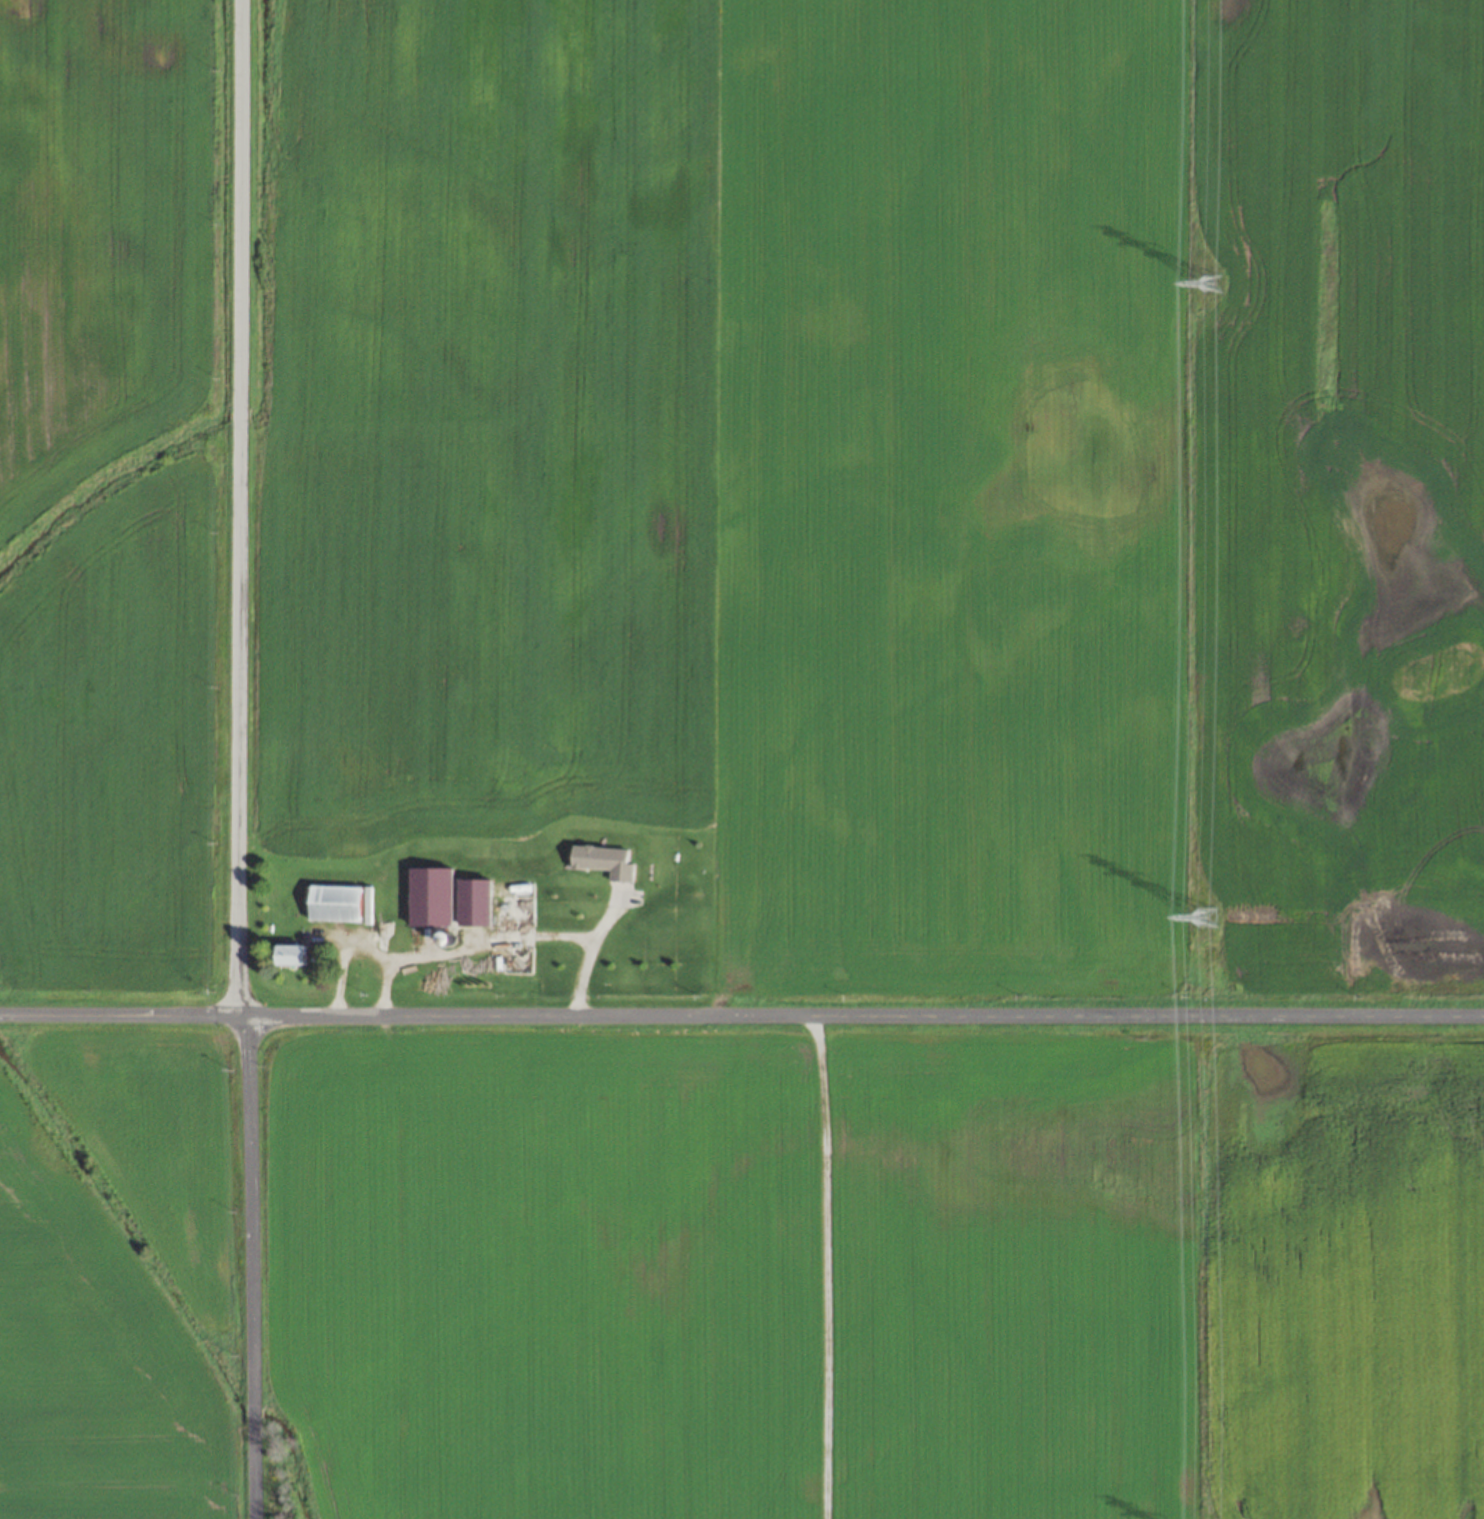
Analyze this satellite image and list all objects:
power tower: (1209, 282)
road: (239, 759)
building: (334, 902)
building: (507, 904)
building: (433, 906)
power tower: (1205, 916)
road: (490, 942)
road: (363, 944)
road: (590, 952)
building: (289, 954)
road: (741, 1018)

